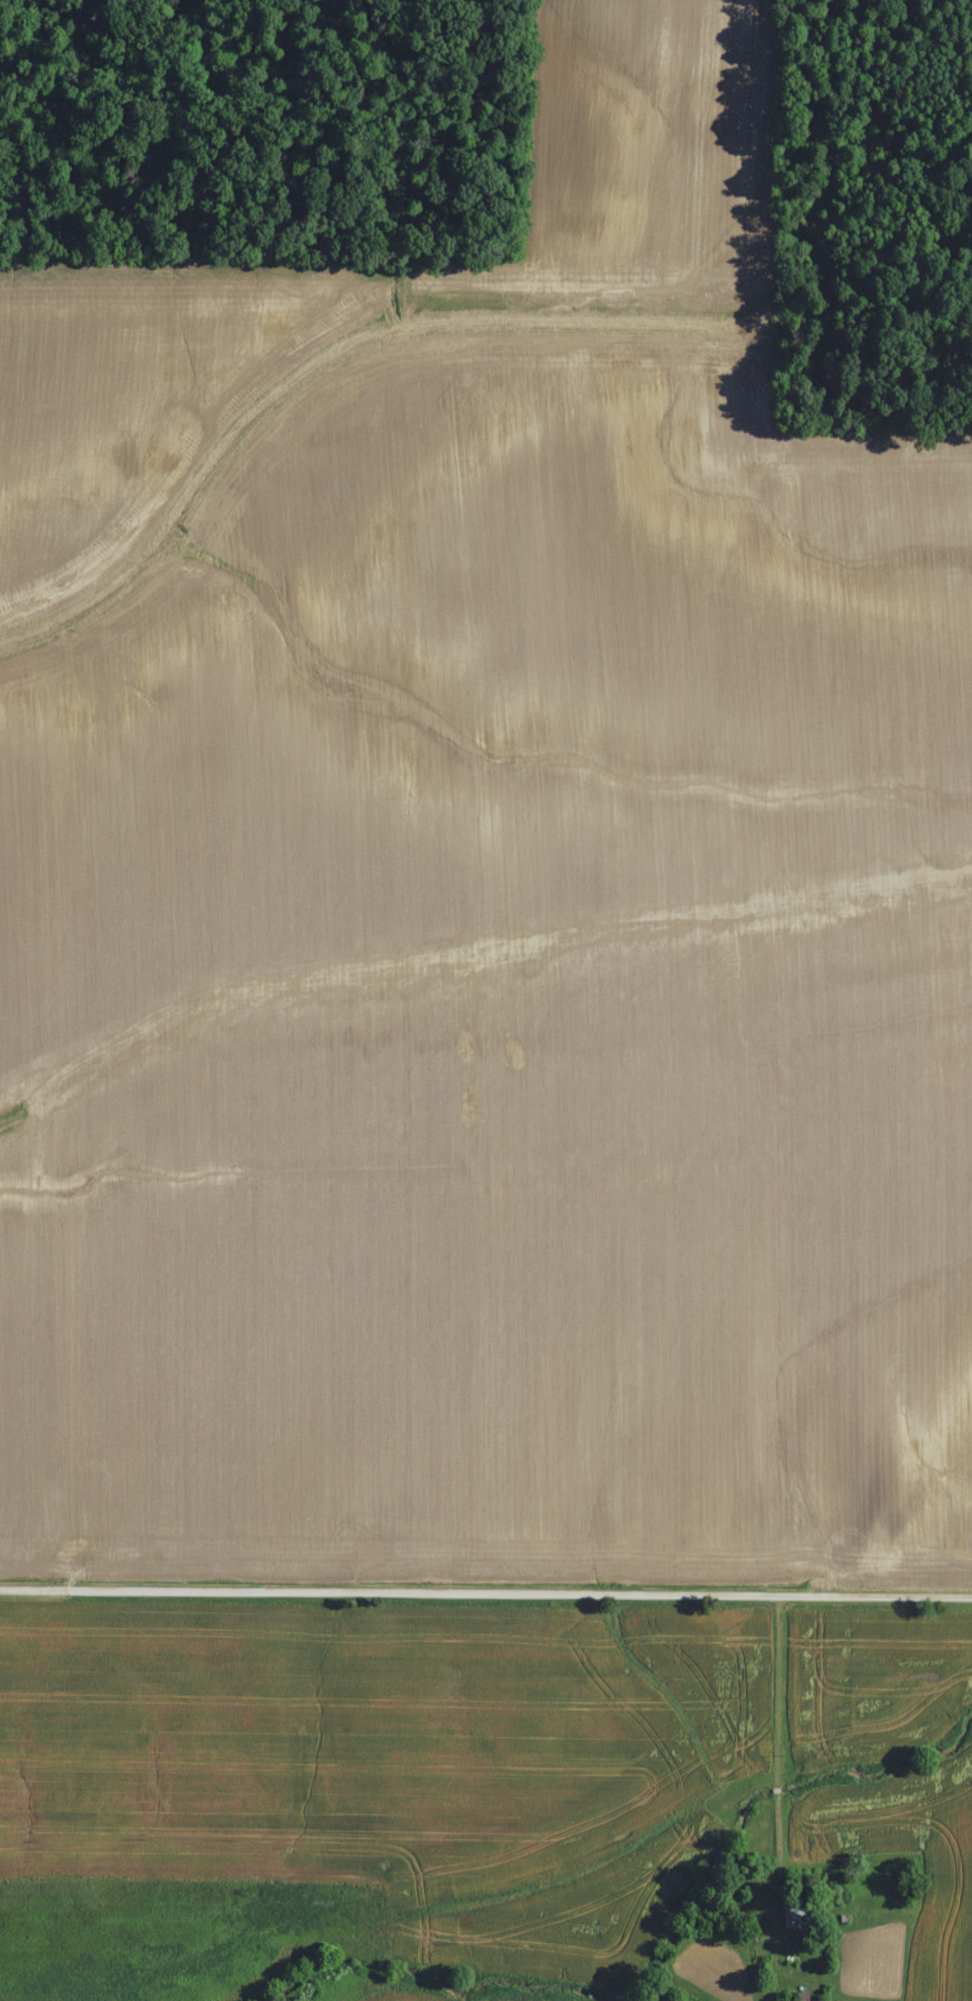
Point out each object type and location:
road: (485, 1592)
road: (777, 1770)

